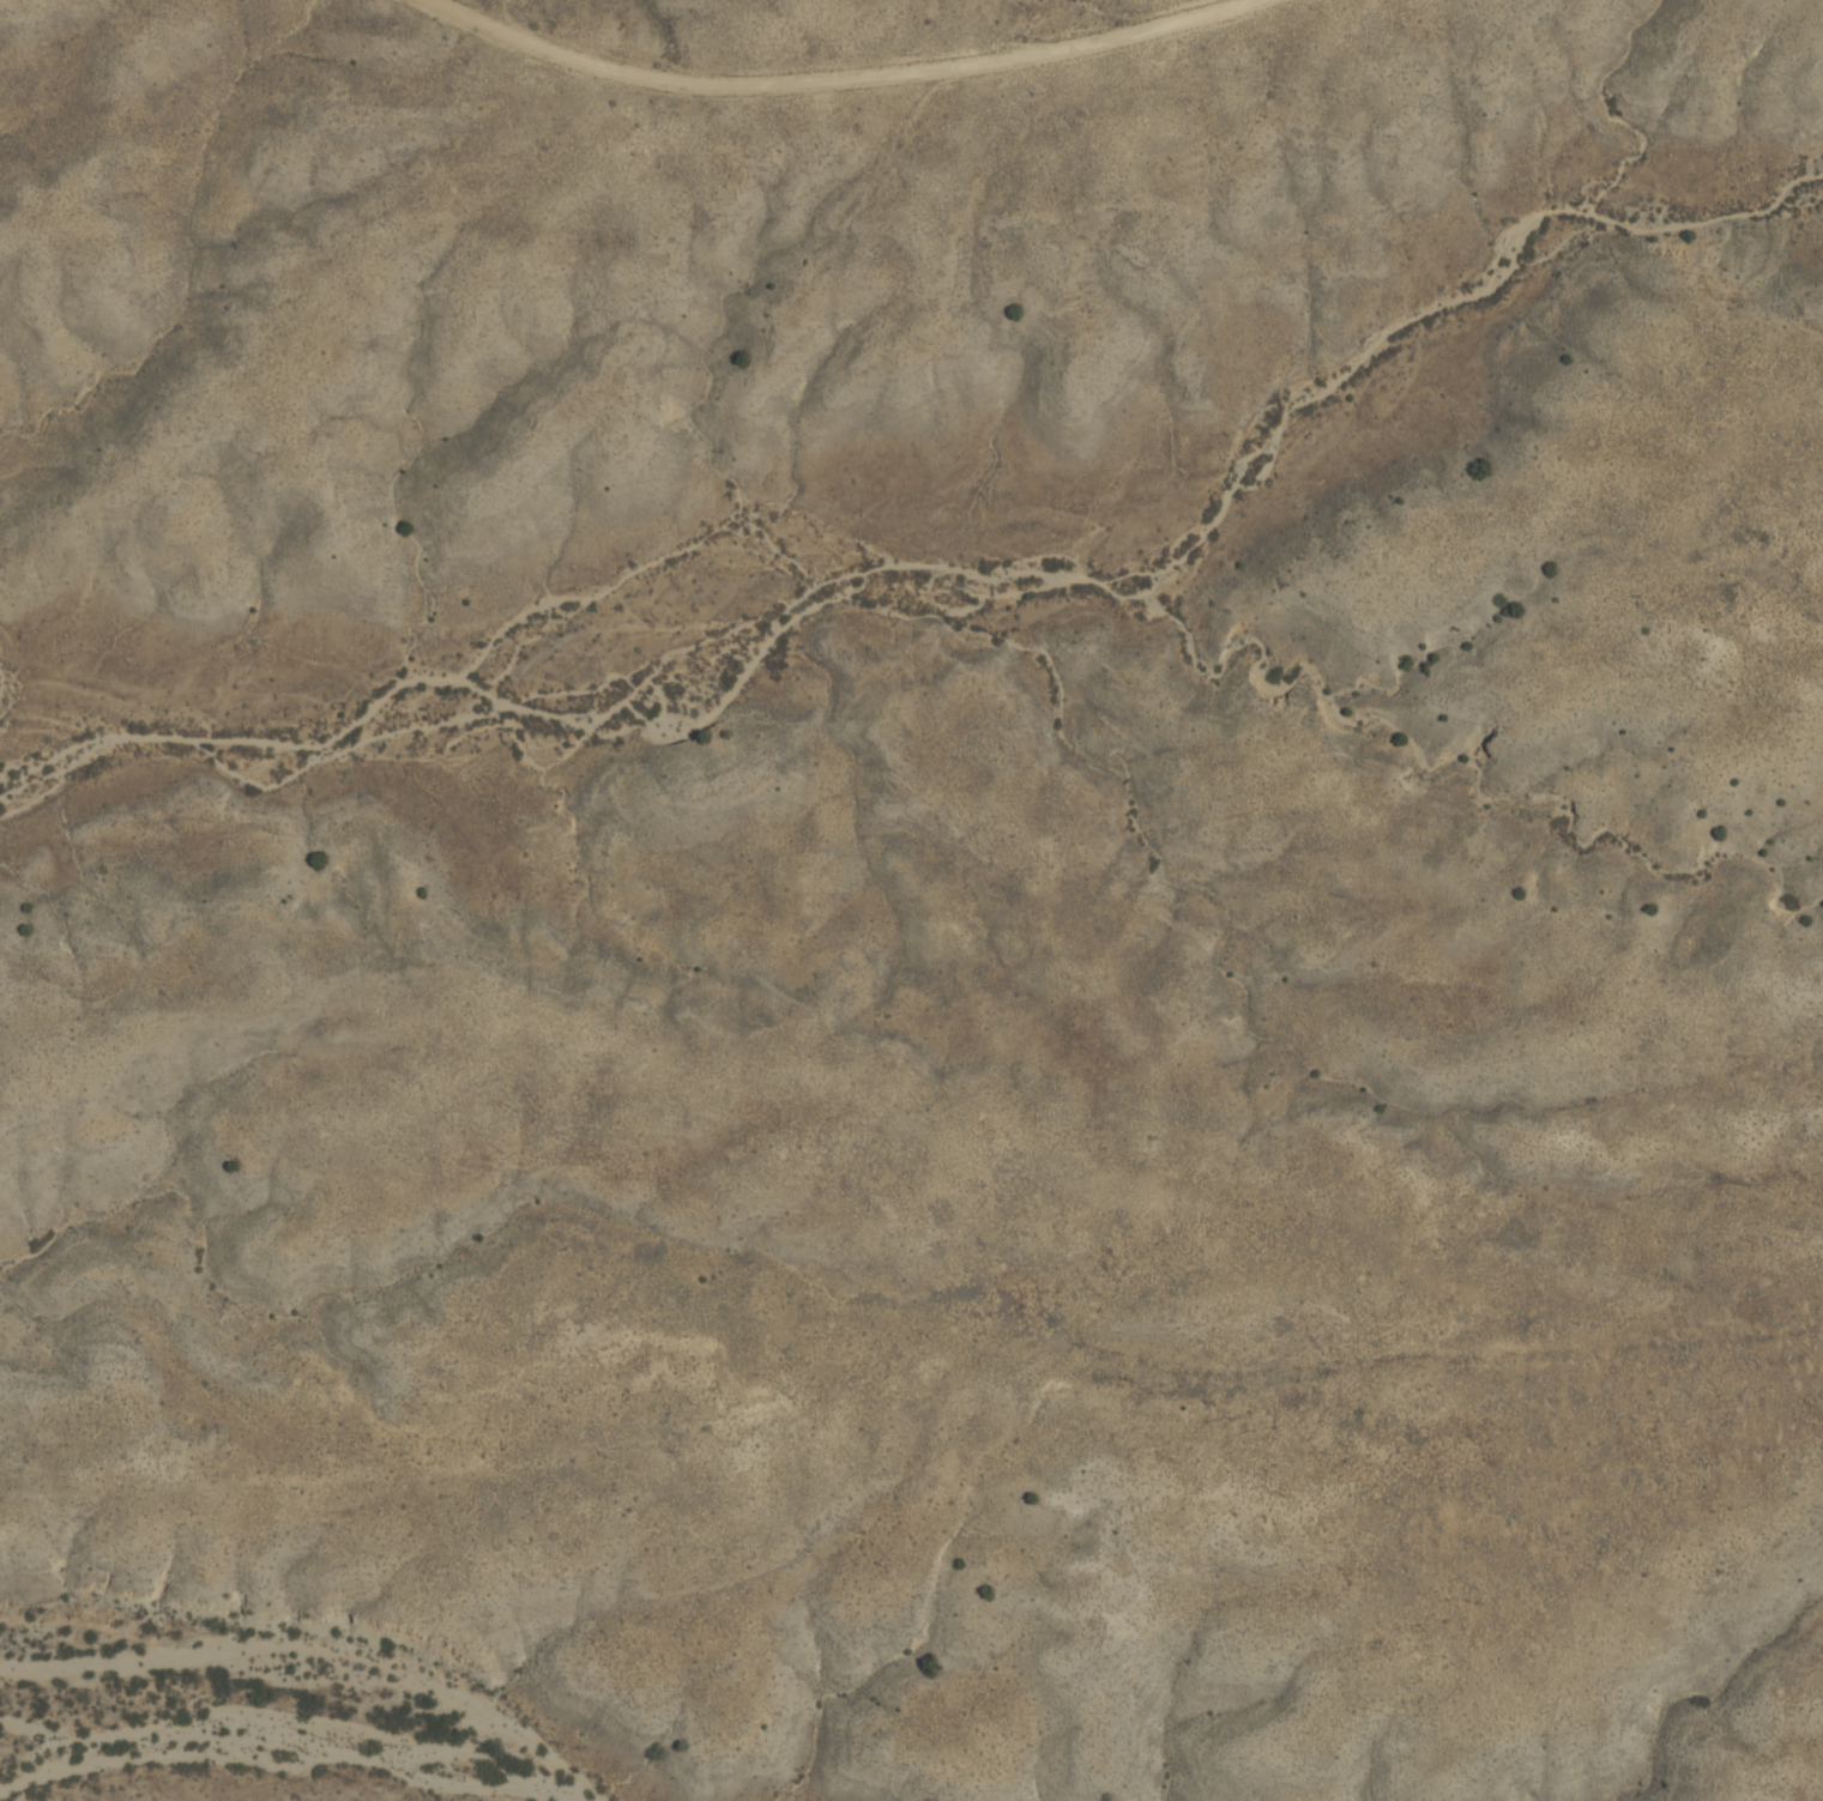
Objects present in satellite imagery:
road: (850, 84)

